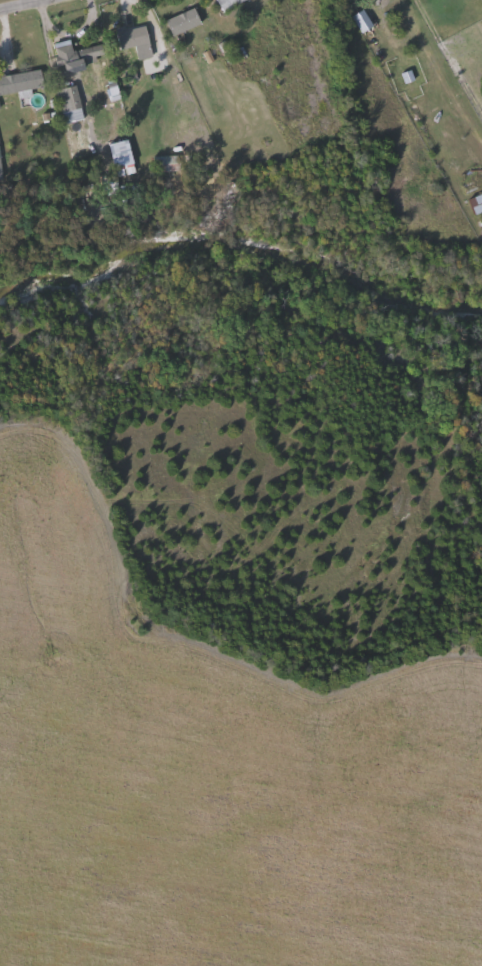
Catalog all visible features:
building: (229, 3)
road: (19, 4)
road: (215, 6)
building: (181, 21)
building: (137, 38)
building: (81, 54)
building: (22, 80)
building: (71, 102)
building: (168, 164)
building: (477, 203)

